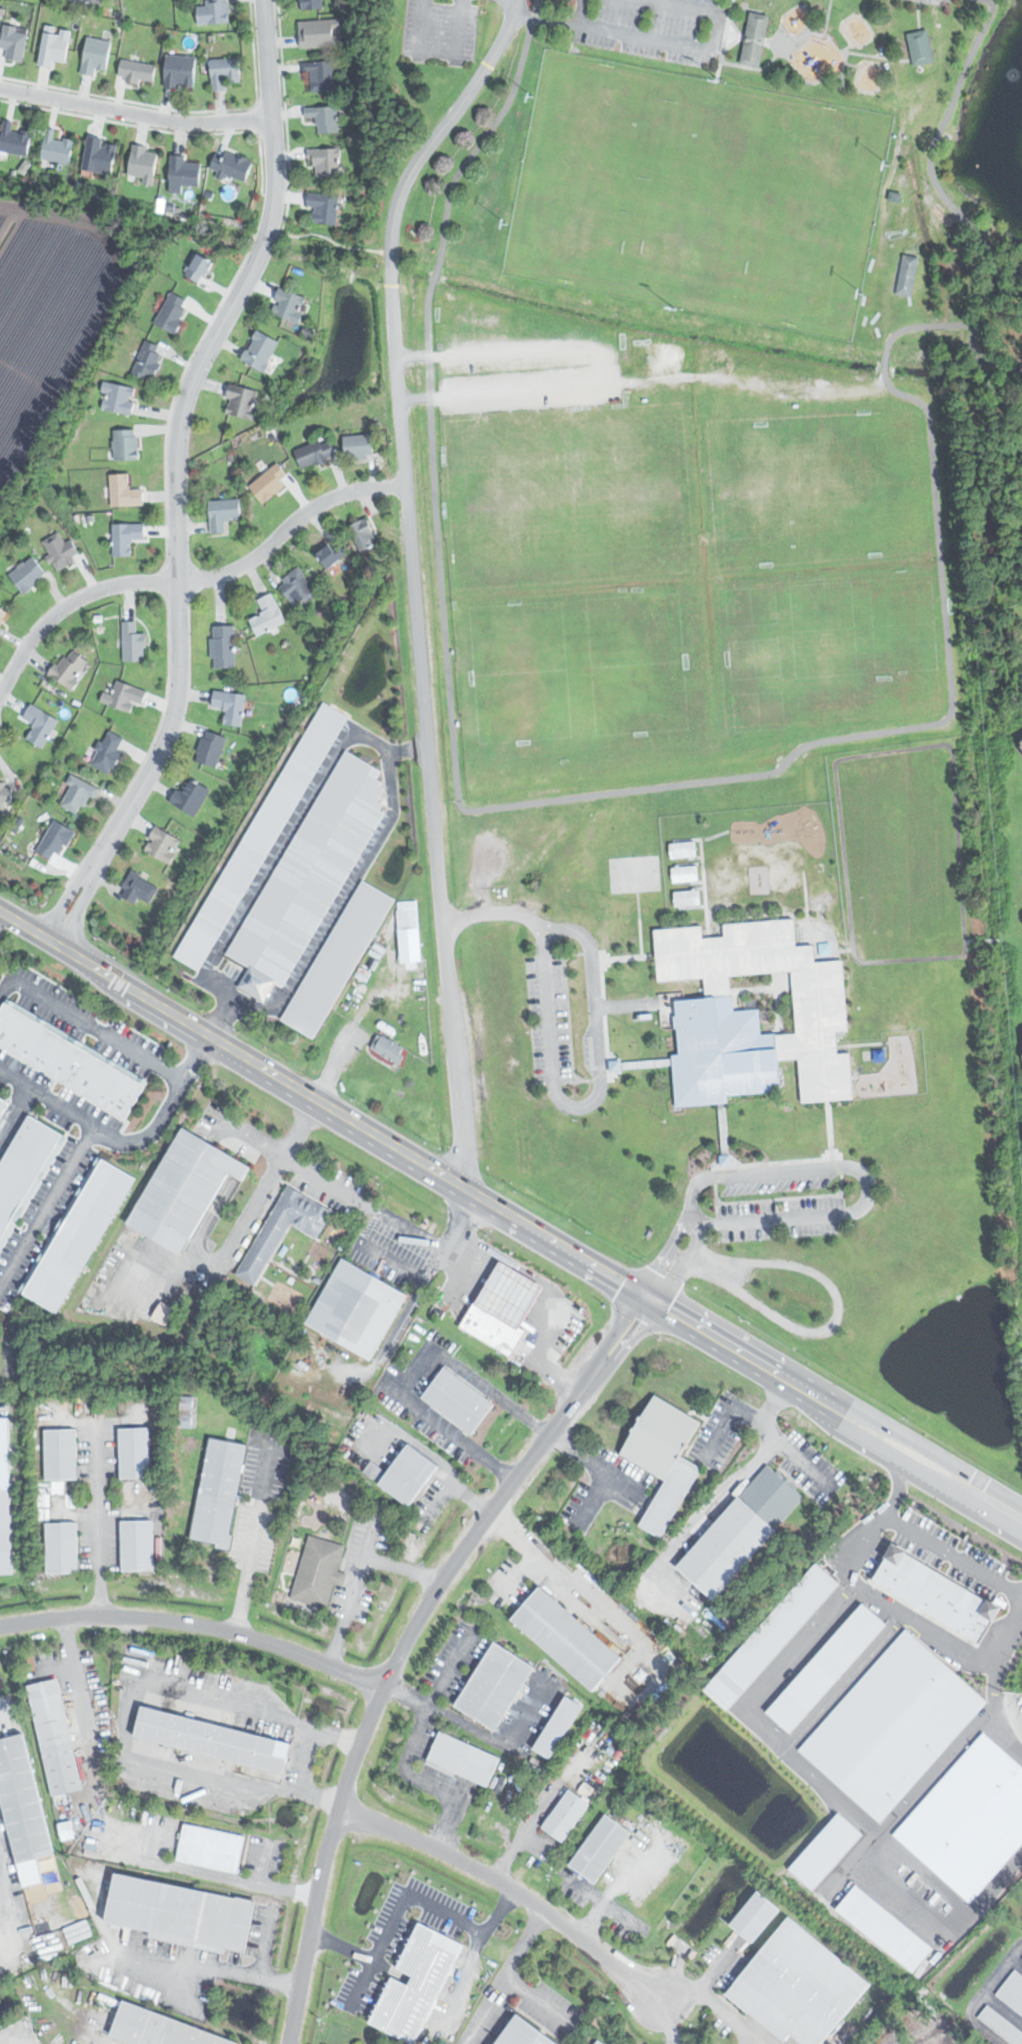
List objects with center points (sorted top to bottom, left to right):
building: (96, 0)
building: (312, 4)
building: (214, 12)
road: (422, 29)
road: (457, 31)
building: (320, 33)
building: (752, 38)
road: (660, 40)
building: (13, 42)
building: (920, 47)
building: (55, 48)
building: (95, 55)
building: (137, 71)
building: (180, 71)
building: (224, 72)
building: (321, 75)
road: (136, 113)
building: (324, 118)
road: (435, 134)
building: (14, 140)
building: (57, 148)
building: (101, 156)
building: (327, 162)
building: (144, 163)
building: (231, 166)
building: (185, 174)
park: (697, 193)
building: (324, 208)
road: (331, 234)
building: (200, 269)
building: (908, 276)
building: (289, 305)
building: (172, 312)
building: (261, 350)
park: (684, 358)
building: (149, 360)
building: (118, 397)
building: (242, 400)
building: (126, 444)
building: (360, 446)
building: (315, 452)
road: (180, 477)
building: (269, 482)
building: (125, 491)
building: (223, 513)
building: (364, 534)
building: (126, 537)
building: (62, 550)
building: (333, 553)
park: (691, 571)
building: (29, 574)
road: (190, 587)
building: (298, 587)
building: (268, 614)
building: (2, 620)
building: (133, 641)
building: (223, 646)
building: (70, 667)
road: (420, 670)
building: (124, 695)
building: (231, 706)
building: (40, 724)
road: (379, 743)
building: (1020, 743)
building: (211, 748)
road: (406, 749)
building: (108, 753)
building: (78, 794)
building: (5, 796)
building: (191, 796)
building: (262, 835)
building: (55, 841)
building: (163, 845)
building: (683, 850)
building: (685, 874)
building: (309, 875)
building: (139, 888)
building: (687, 899)
road: (492, 912)
road: (547, 927)
building: (410, 930)
building: (338, 959)
building: (756, 1013)
road: (218, 1018)
road: (90, 1023)
building: (389, 1048)
building: (70, 1064)
road: (49, 1097)
road: (588, 1102)
building: (3, 1103)
road: (324, 1107)
road: (163, 1111)
parking lot: (57, 1122)
road: (461, 1125)
road: (288, 1159)
building: (25, 1169)
building: (188, 1188)
road: (49, 1205)
road: (242, 1219)
building: (278, 1229)
building: (82, 1234)
road: (456, 1245)
road: (430, 1262)
building: (504, 1293)
gas station: (504, 1293)
road: (504, 1293)
traffic signals: (652, 1297)
building: (353, 1308)
building: (489, 1327)
road: (725, 1341)
road: (538, 1354)
building: (461, 1398)
road: (744, 1409)
building: (186, 1412)
road: (451, 1432)
building: (656, 1438)
building: (132, 1451)
road: (910, 1451)
building: (59, 1453)
road: (793, 1455)
road: (592, 1463)
building: (413, 1473)
road: (898, 1483)
building: (215, 1490)
building: (667, 1496)
building: (767, 1496)
building: (4, 1532)
road: (95, 1539)
building: (134, 1545)
road: (529, 1546)
building: (59, 1547)
building: (722, 1547)
road: (953, 1555)
building: (315, 1571)
building: (1000, 1578)
building: (931, 1593)
road: (908, 1616)
road: (195, 1625)
building: (766, 1635)
building: (563, 1638)
road: (404, 1640)
building: (823, 1665)
building: (491, 1685)
parking lot: (7, 1719)
building: (890, 1724)
building: (554, 1726)
building: (59, 1735)
building: (216, 1738)
road: (297, 1753)
building: (461, 1759)
building: (23, 1799)
building: (562, 1815)
building: (967, 1818)
building: (67, 1832)
parking lot: (3, 1834)
building: (208, 1847)
building: (597, 1848)
building: (821, 1850)
road: (510, 1886)
building: (176, 1911)
building: (752, 1916)
building: (881, 1928)
road: (265, 1942)
building: (1021, 1963)
road: (202, 1967)
building: (413, 1984)
building: (793, 1986)
building: (1012, 1990)
building: (1000, 2026)
building: (163, 2028)
building: (518, 2034)
building: (595, 2042)
building: (600, 2042)
building: (992, 2043)

